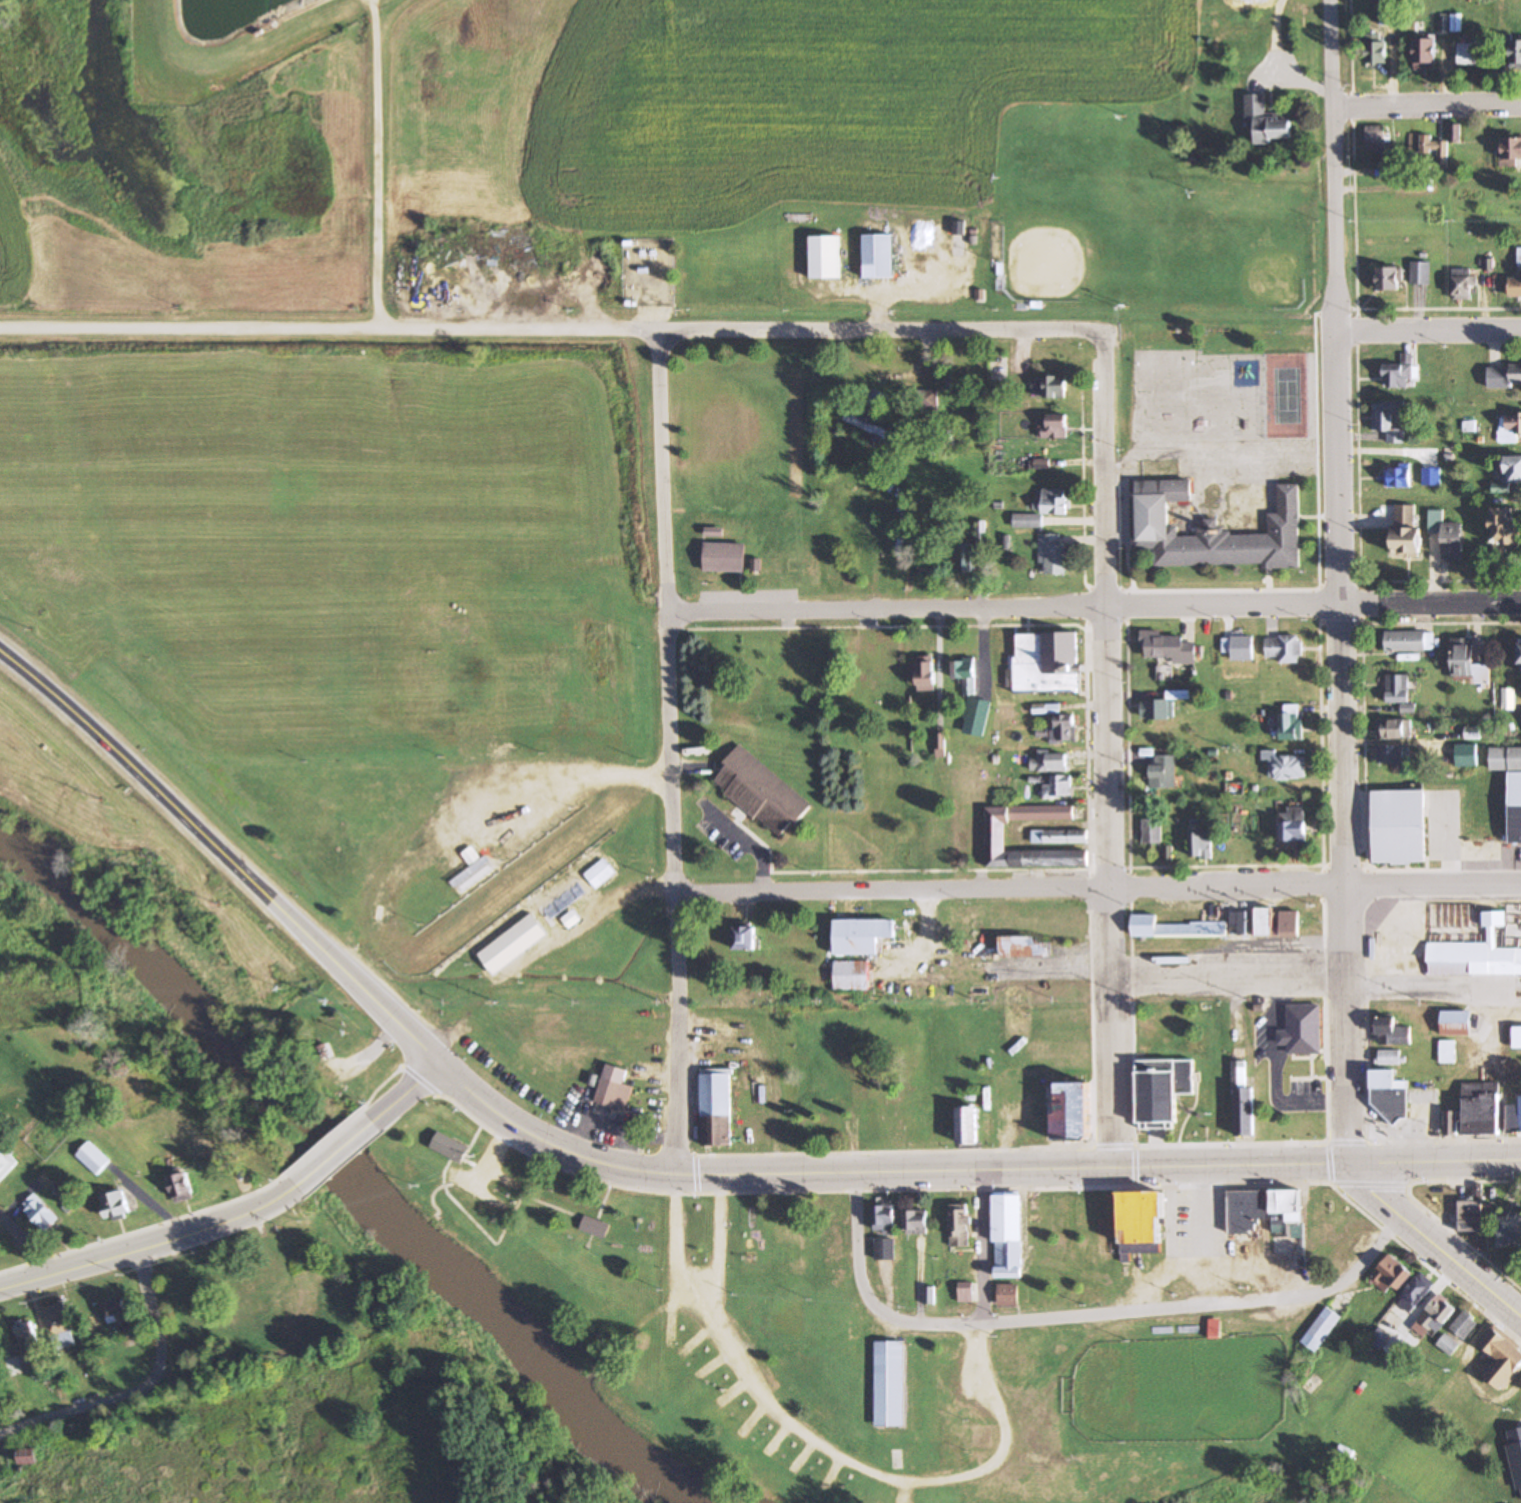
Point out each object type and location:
building: (1390, 12)
road: (1350, 44)
building: (1376, 48)
building: (1425, 53)
building: (1472, 53)
building: (1515, 54)
road: (1427, 106)
building: (1266, 121)
building: (1456, 133)
building: (1375, 138)
building: (1429, 148)
building: (1511, 151)
building: (958, 228)
building: (825, 256)
building: (878, 256)
building: (1419, 273)
building: (1387, 278)
building: (1462, 283)
building: (1514, 287)
road: (1355, 297)
road: (1022, 327)
road: (1430, 327)
road: (471, 331)
building: (1398, 373)
building: (1504, 375)
building: (1050, 387)
park: (1285, 396)
building: (925, 401)
building: (1387, 420)
building: (866, 422)
building: (1513, 423)
building: (1052, 426)
building: (1511, 469)
building: (1397, 477)
building: (1042, 509)
building: (1207, 528)
building: (1505, 528)
building: (980, 532)
building: (1405, 532)
building: (1447, 536)
building: (1003, 541)
road: (1358, 544)
building: (1051, 554)
building: (723, 556)
building: (884, 559)
building: (963, 560)
building: (926, 564)
road: (1339, 582)
road: (1145, 603)
road: (1430, 603)
road: (810, 609)
road: (1440, 624)
building: (1408, 642)
building: (1167, 647)
building: (1238, 648)
building: (1283, 649)
building: (886, 656)
building: (1520, 657)
building: (810, 659)
building: (1047, 661)
building: (1469, 663)
building: (923, 675)
building: (866, 683)
building: (785, 687)
building: (850, 692)
building: (1398, 692)
building: (971, 698)
building: (1507, 700)
building: (1046, 708)
building: (1156, 709)
building: (1290, 723)
building: (1061, 729)
building: (1394, 729)
road: (1088, 741)
road: (1111, 751)
road: (670, 755)
building: (1391, 755)
building: (1465, 756)
building: (1050, 761)
building: (1288, 768)
building: (1163, 771)
building: (1058, 786)
building: (1510, 786)
building: (762, 791)
building: (1294, 825)
building: (1398, 828)
building: (1152, 831)
building: (995, 835)
building: (1058, 836)
road: (745, 840)
building: (1201, 845)
building: (1167, 852)
road: (224, 854)
road: (1228, 866)
building: (600, 875)
road: (1433, 886)
road: (1152, 890)
road: (816, 892)
building: (564, 901)
building: (568, 922)
building: (1264, 922)
building: (1289, 922)
building: (1239, 923)
building: (1176, 927)
building: (860, 936)
building: (743, 937)
building: (512, 944)
building: (1026, 946)
building: (770, 956)
building: (1474, 956)
building: (851, 975)
road: (1230, 985)
road: (1433, 987)
building: (804, 1019)
building: (1456, 1023)
building: (1302, 1029)
building: (1392, 1032)
building: (1517, 1038)
building: (1448, 1052)
building: (1390, 1058)
building: (854, 1064)
building: (1239, 1072)
building: (593, 1080)
building: (614, 1089)
building: (1162, 1089)
road: (407, 1094)
building: (1389, 1094)
building: (1481, 1108)
building: (716, 1110)
building: (824, 1110)
building: (1245, 1110)
building: (1073, 1113)
building: (894, 1117)
building: (1514, 1119)
building: (1451, 1123)
building: (968, 1125)
building: (451, 1147)
road: (336, 1155)
building: (92, 1157)
building: (5, 1162)
road: (1434, 1162)
road: (1234, 1167)
road: (1042, 1170)
road: (687, 1177)
building: (180, 1186)
river: (360, 1194)
building: (114, 1204)
building: (1248, 1210)
building: (1285, 1211)
building: (40, 1213)
building: (1470, 1215)
building: (1140, 1222)
building: (961, 1225)
building: (595, 1227)
building: (918, 1227)
building: (886, 1229)
building: (1298, 1230)
road: (678, 1231)
building: (1010, 1234)
building: (1509, 1234)
building: (832, 1235)
road: (1203, 1240)
road: (26, 1242)
road: (152, 1243)
road: (1432, 1243)
road: (983, 1247)
road: (719, 1248)
building: (834, 1268)
building: (1392, 1276)
building: (966, 1292)
building: (1416, 1292)
building: (930, 1296)
building: (1009, 1296)
road: (869, 1297)
building: (113, 1310)
road: (1213, 1312)
building: (1436, 1314)
road: (150, 1319)
building: (58, 1323)
building: (1465, 1324)
building: (1322, 1328)
building: (26, 1336)
park: (843, 1343)
building: (1449, 1345)
building: (1502, 1360)
building: (705, 1371)
building: (890, 1384)
road: (73, 1414)
building: (1516, 1455)
building: (28, 1457)
road: (876, 1473)

